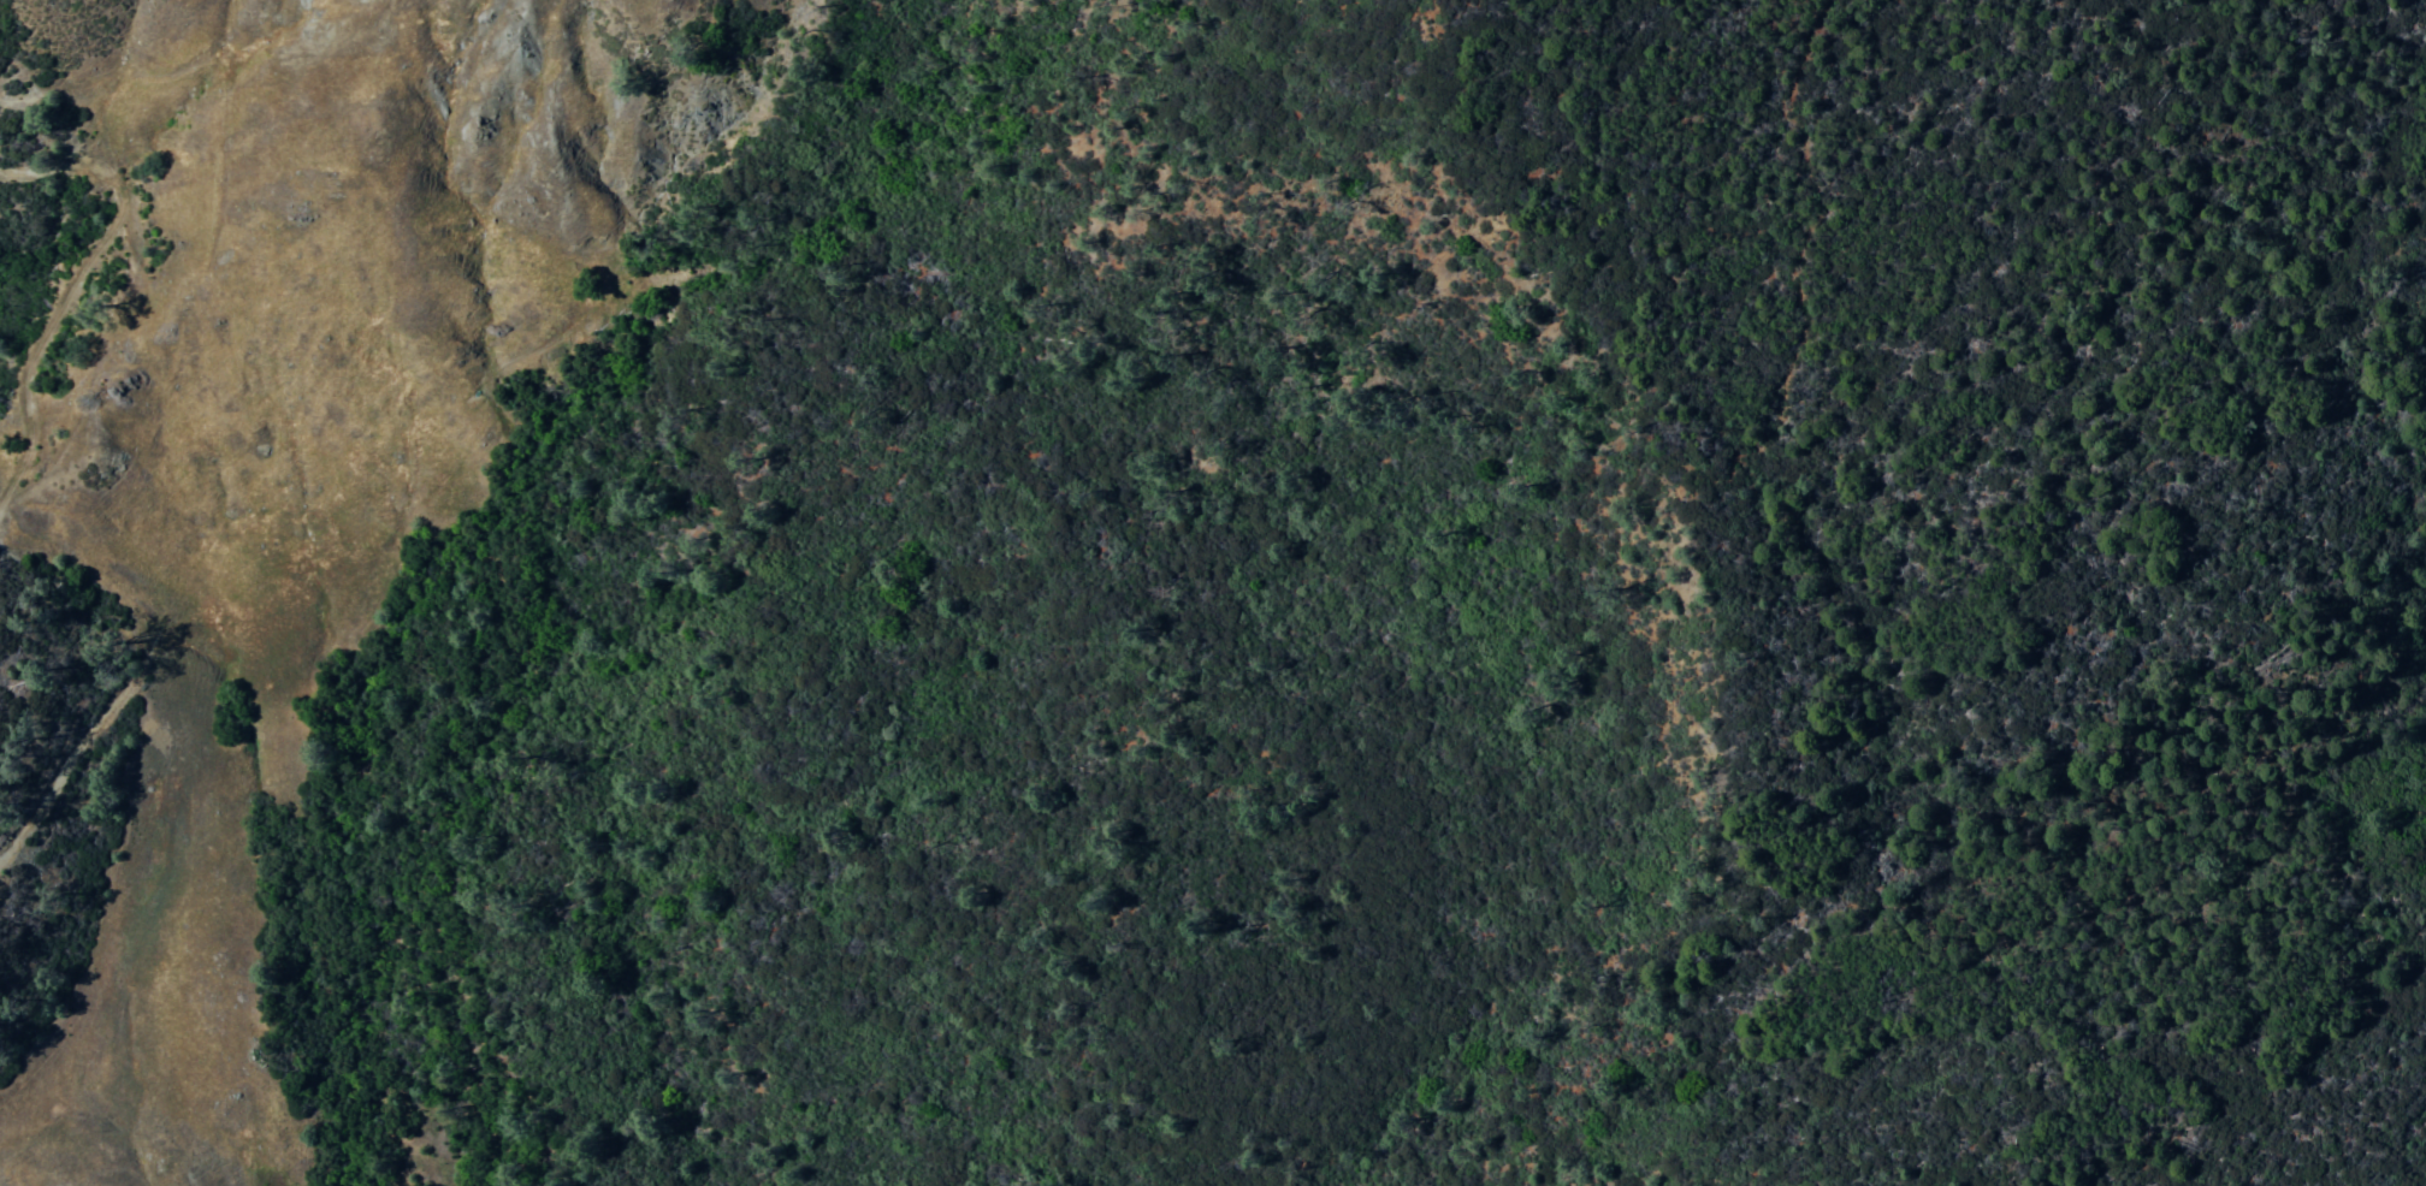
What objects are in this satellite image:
road: (79, 291)
road: (314, 568)

